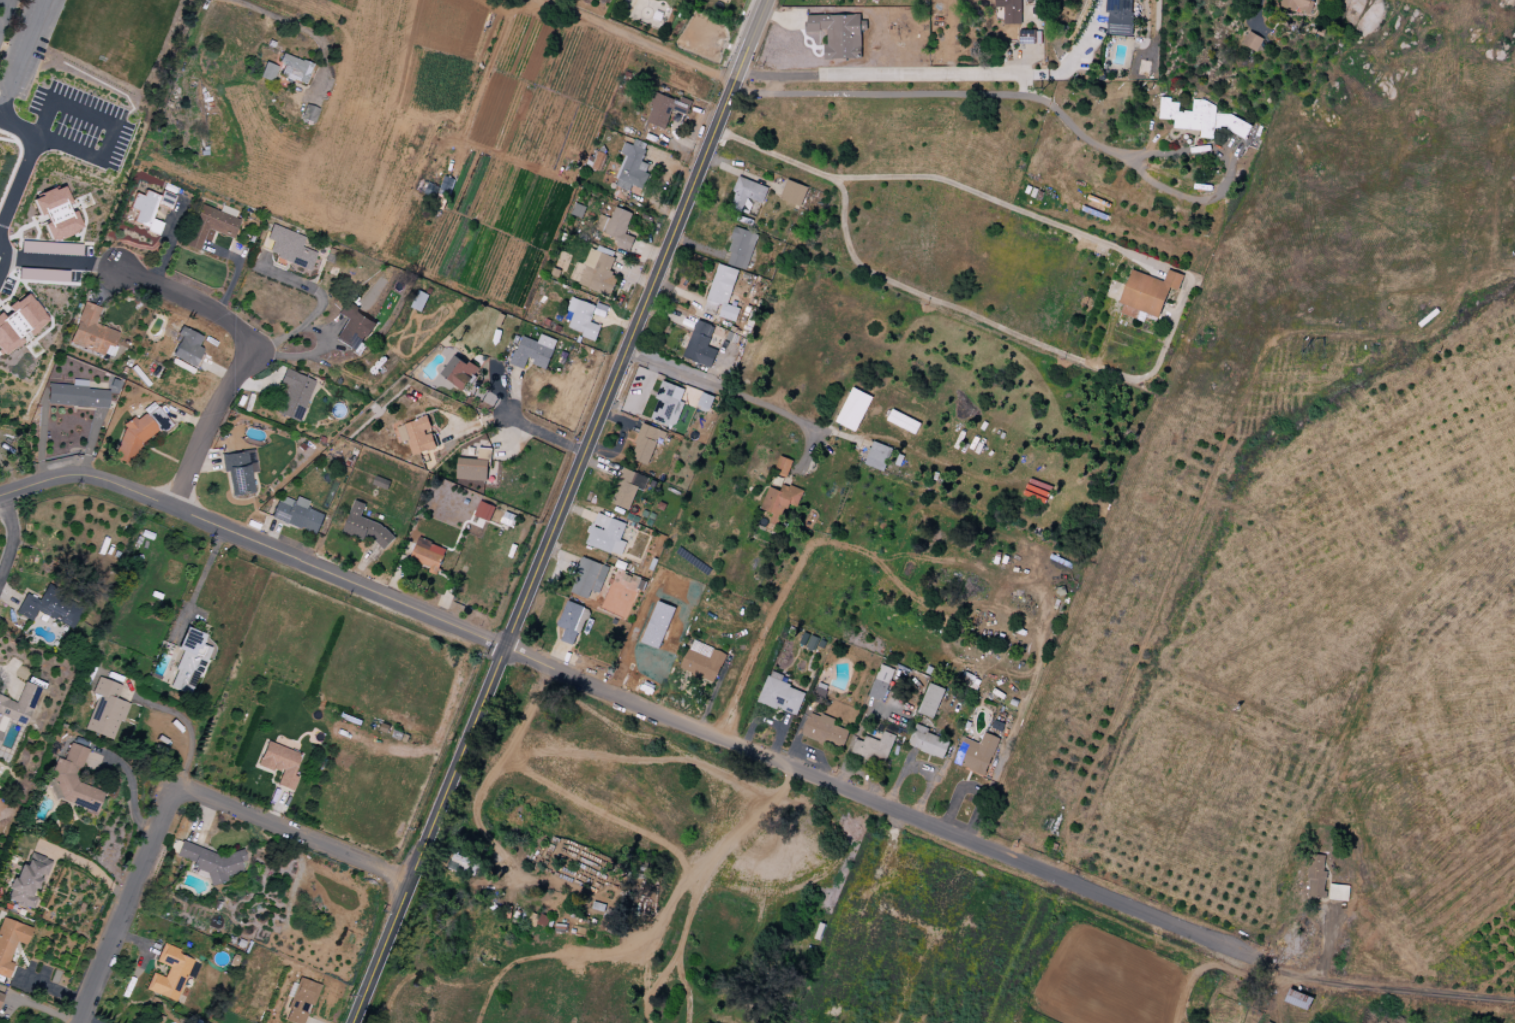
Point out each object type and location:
building: (837, 0)
building: (1301, 7)
road: (4, 11)
building: (1012, 11)
road: (1259, 11)
building: (1121, 17)
road: (303, 28)
road: (737, 32)
building: (840, 32)
building: (1028, 37)
road: (635, 40)
building: (1253, 42)
road: (23, 52)
road: (1064, 64)
building: (294, 69)
building: (267, 72)
road: (1021, 90)
building: (663, 111)
building: (308, 114)
building: (1195, 117)
road: (113, 129)
road: (1181, 152)
building: (633, 167)
road: (22, 177)
building: (793, 193)
building: (747, 194)
building: (149, 209)
building: (55, 214)
building: (209, 226)
building: (621, 228)
building: (26, 247)
building: (742, 247)
building: (288, 248)
building: (62, 249)
road: (52, 263)
building: (600, 273)
road: (237, 274)
building: (43, 275)
road: (1187, 282)
building: (724, 291)
building: (1148, 296)
road: (190, 302)
road: (314, 314)
building: (583, 319)
building: (19, 323)
building: (353, 328)
building: (92, 333)
building: (701, 345)
building: (186, 347)
building: (531, 353)
building: (459, 372)
road: (722, 390)
building: (293, 395)
building: (76, 396)
building: (705, 401)
building: (669, 405)
building: (854, 409)
building: (904, 422)
road: (521, 423)
road: (207, 429)
building: (139, 433)
building: (419, 436)
building: (646, 443)
building: (879, 457)
building: (784, 466)
building: (473, 470)
building: (239, 471)
building: (626, 488)
building: (782, 502)
building: (484, 511)
road: (559, 511)
building: (298, 515)
building: (366, 527)
building: (607, 534)
road: (12, 538)
building: (428, 555)
road: (201, 577)
building: (588, 580)
building: (47, 609)
building: (573, 622)
road: (624, 646)
building: (704, 661)
building: (188, 662)
road: (553, 679)
building: (882, 683)
building: (783, 696)
building: (932, 702)
road: (637, 703)
building: (105, 709)
building: (14, 717)
building: (824, 731)
road: (778, 737)
building: (928, 742)
road: (794, 748)
building: (874, 750)
building: (979, 754)
road: (820, 756)
road: (641, 761)
building: (280, 764)
building: (72, 781)
road: (484, 782)
road: (130, 786)
road: (603, 814)
road: (292, 834)
building: (211, 863)
building: (464, 865)
building: (1316, 876)
building: (27, 881)
road: (692, 881)
building: (1338, 892)
road: (122, 905)
road: (690, 917)
road: (130, 942)
building: (10, 943)
road: (1282, 970)
building: (170, 975)
road: (655, 990)
road: (1403, 990)
road: (688, 992)
building: (0, 995)
building: (301, 1002)
road: (88, 1019)

